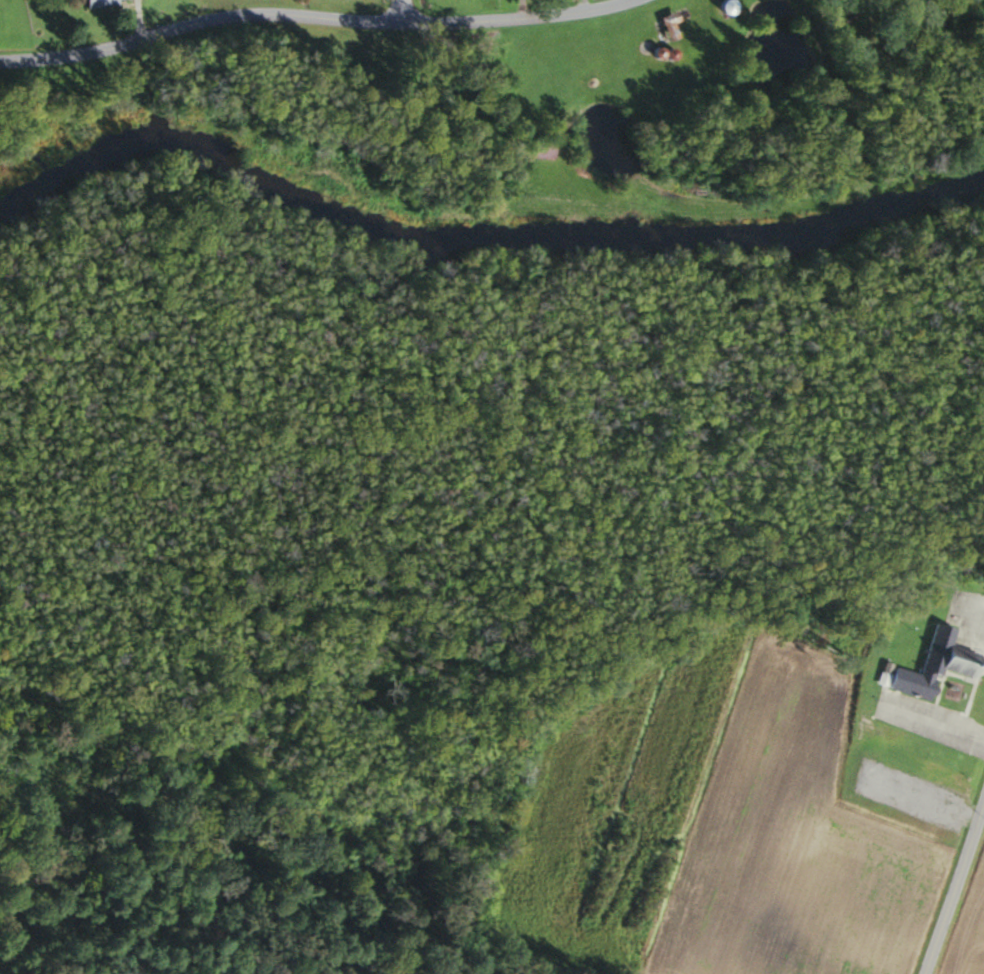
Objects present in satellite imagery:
building: (105, 3)
building: (720, 6)
road: (403, 11)
road: (324, 26)
building: (544, 145)
building: (930, 665)
road: (932, 722)
road: (956, 891)
building: (836, 972)

